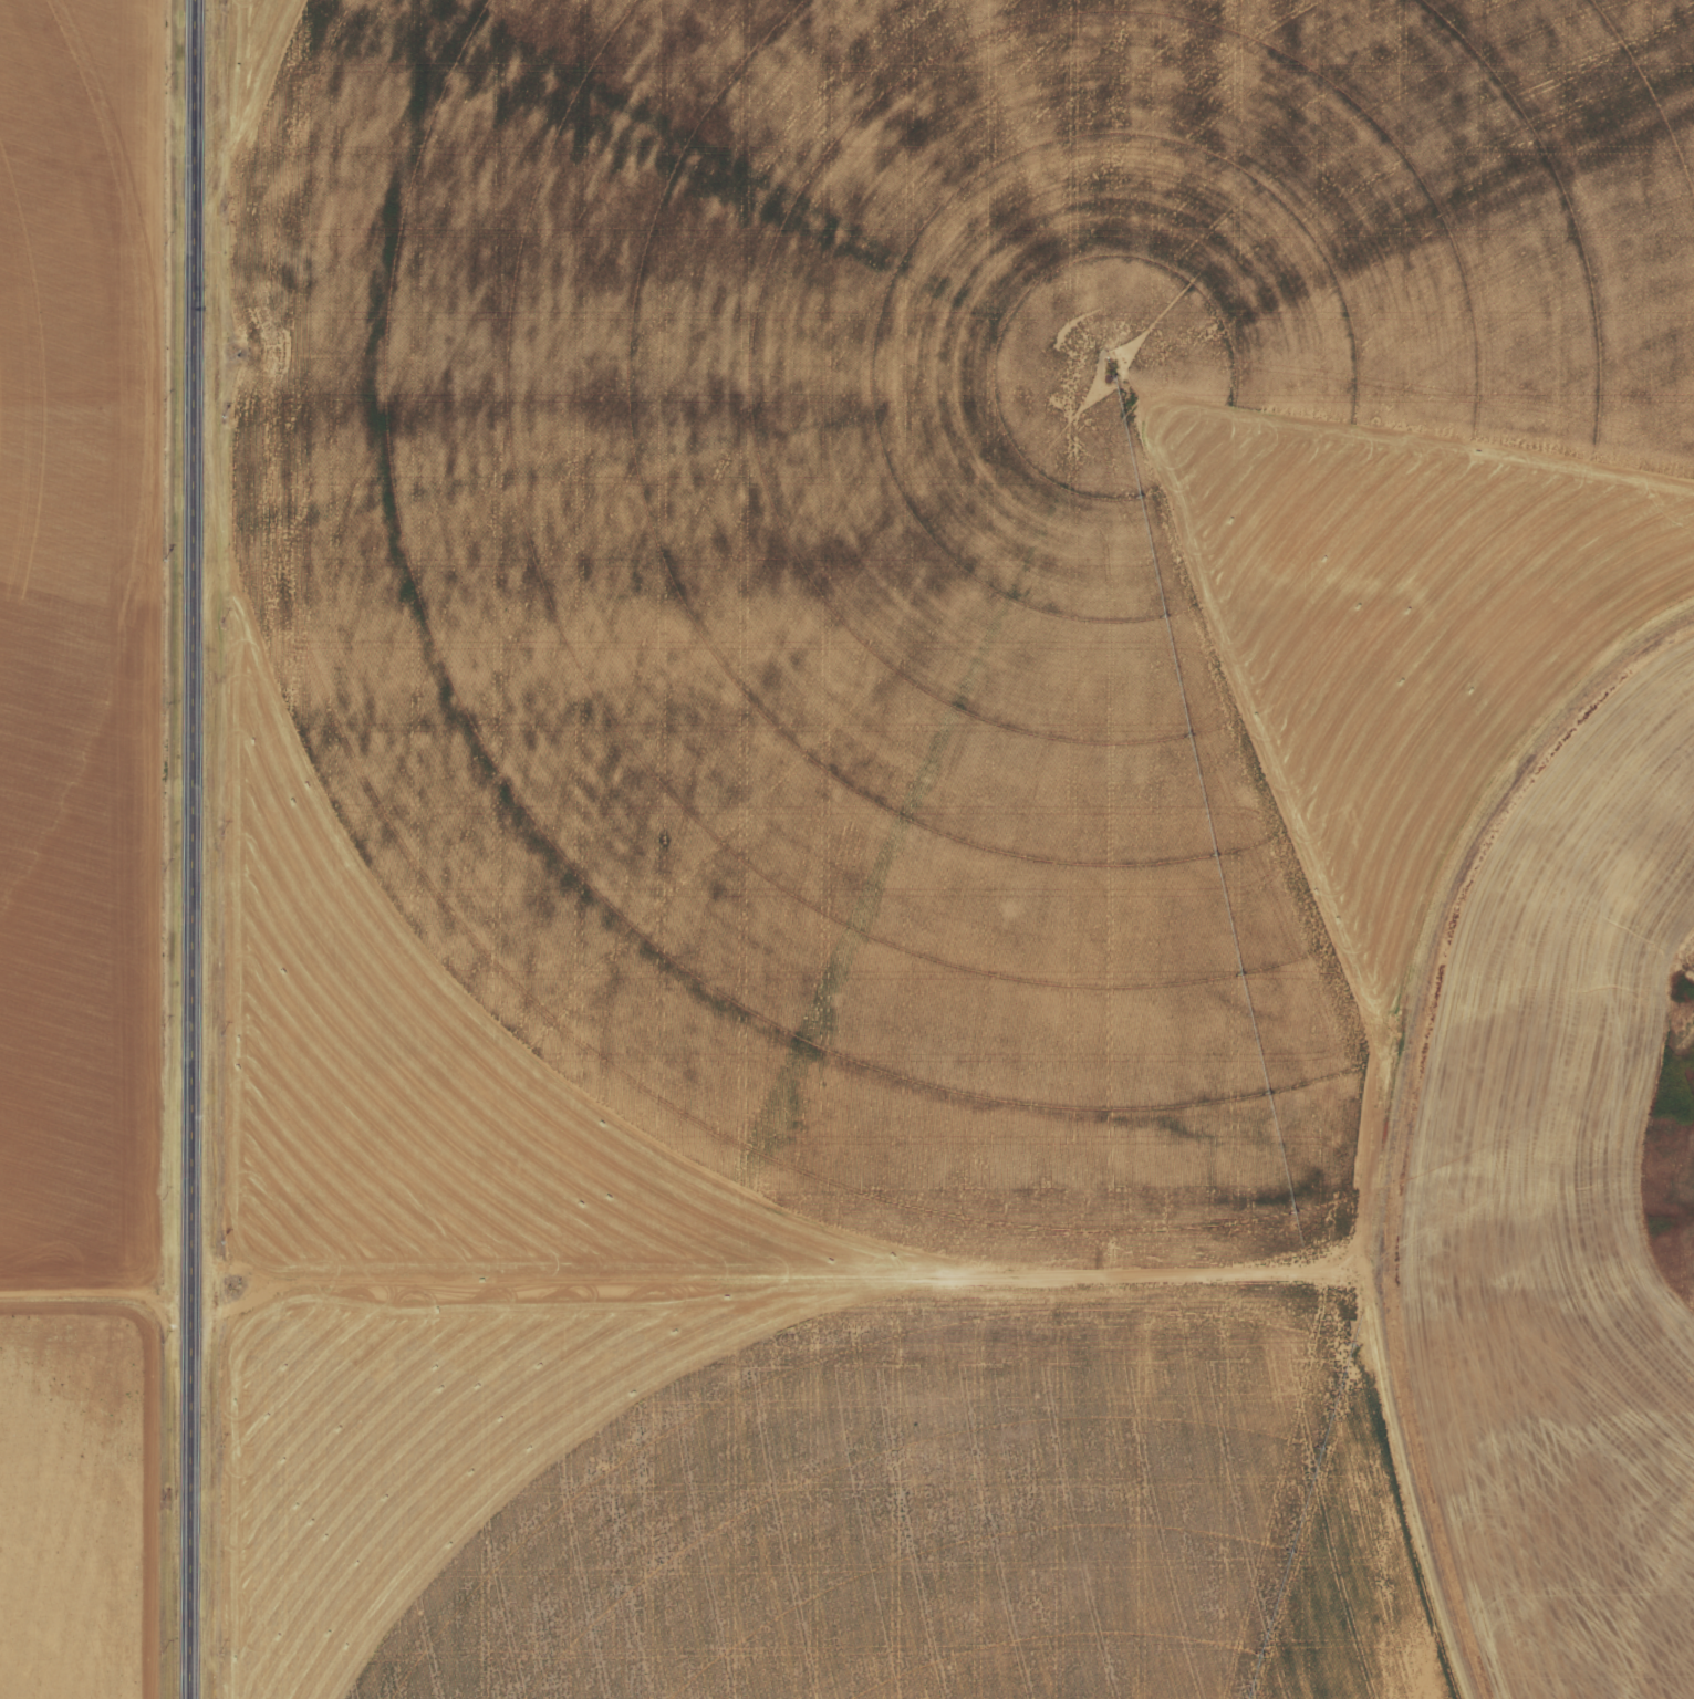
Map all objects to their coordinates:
road: (196, 848)
road: (1425, 1032)
road: (98, 1271)

